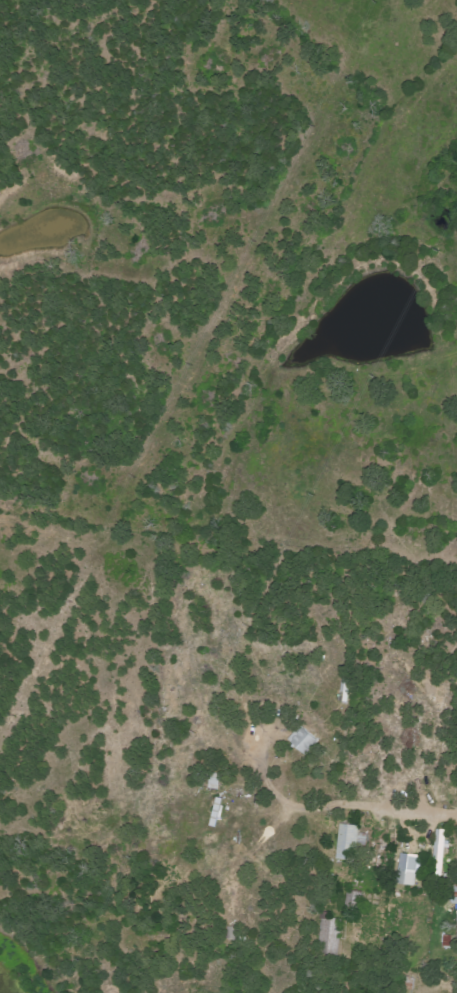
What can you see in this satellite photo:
building: (306, 740)
road: (412, 810)
building: (346, 842)
building: (438, 852)
building: (407, 870)
building: (331, 934)
road: (86, 946)

